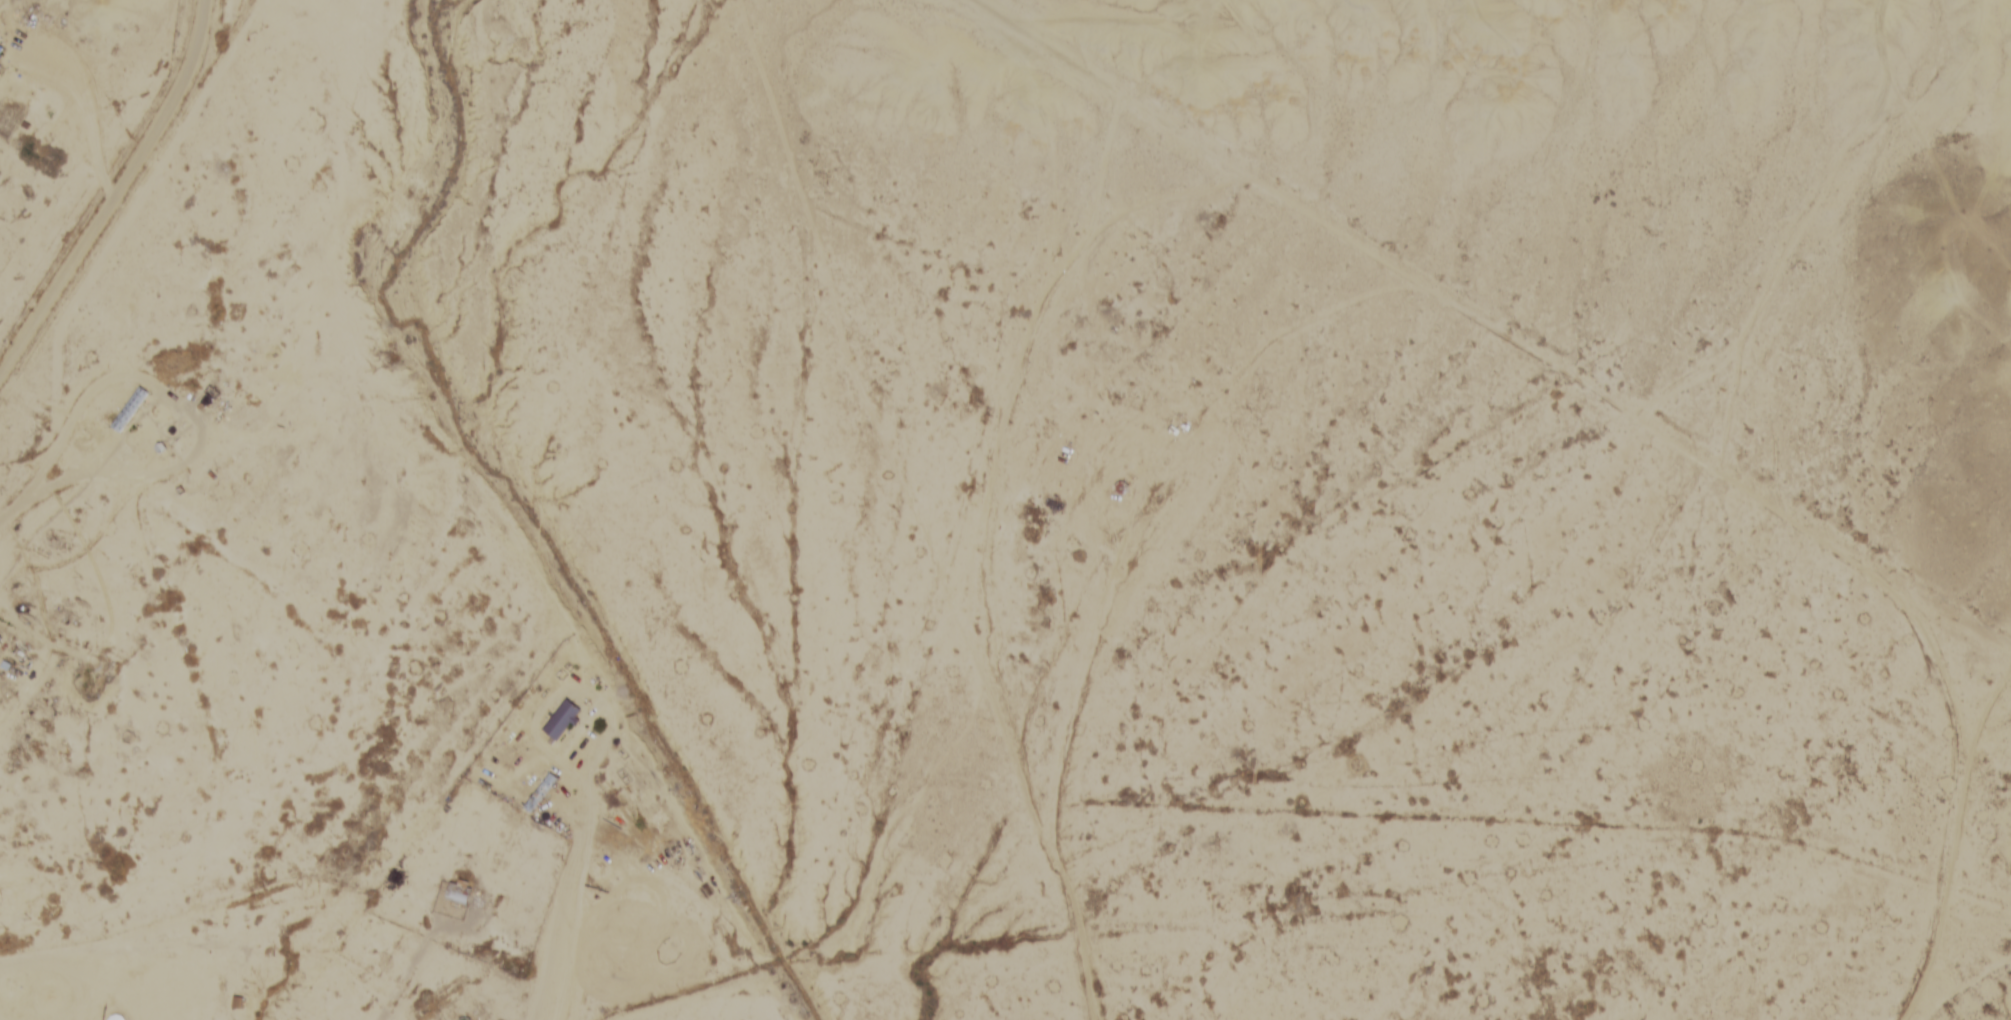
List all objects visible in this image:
building: (1, 50)
building: (0, 66)
road: (118, 195)
road: (1807, 236)
building: (130, 409)
road: (1633, 410)
building: (0, 638)
building: (560, 720)
building: (457, 892)
building: (4, 896)
road: (177, 937)
road: (472, 947)
road: (1966, 983)
building: (238, 1002)

